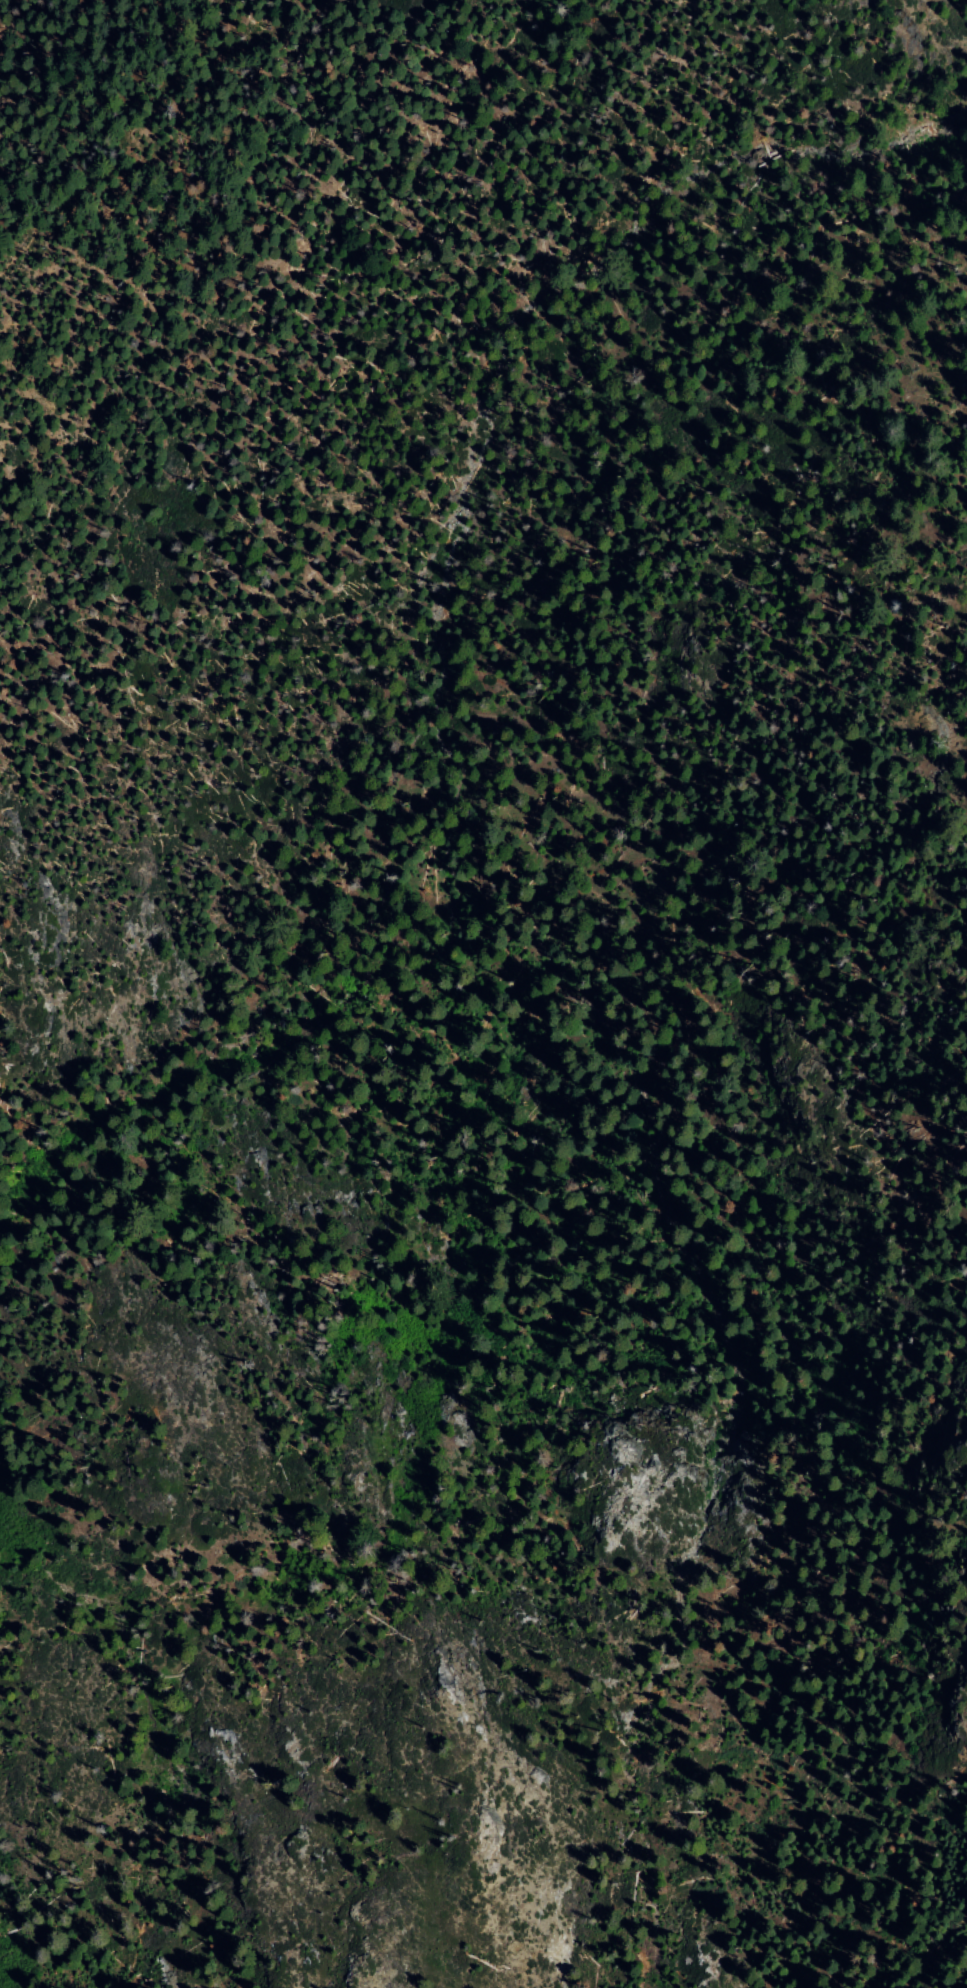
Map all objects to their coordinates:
road: (936, 1947)

